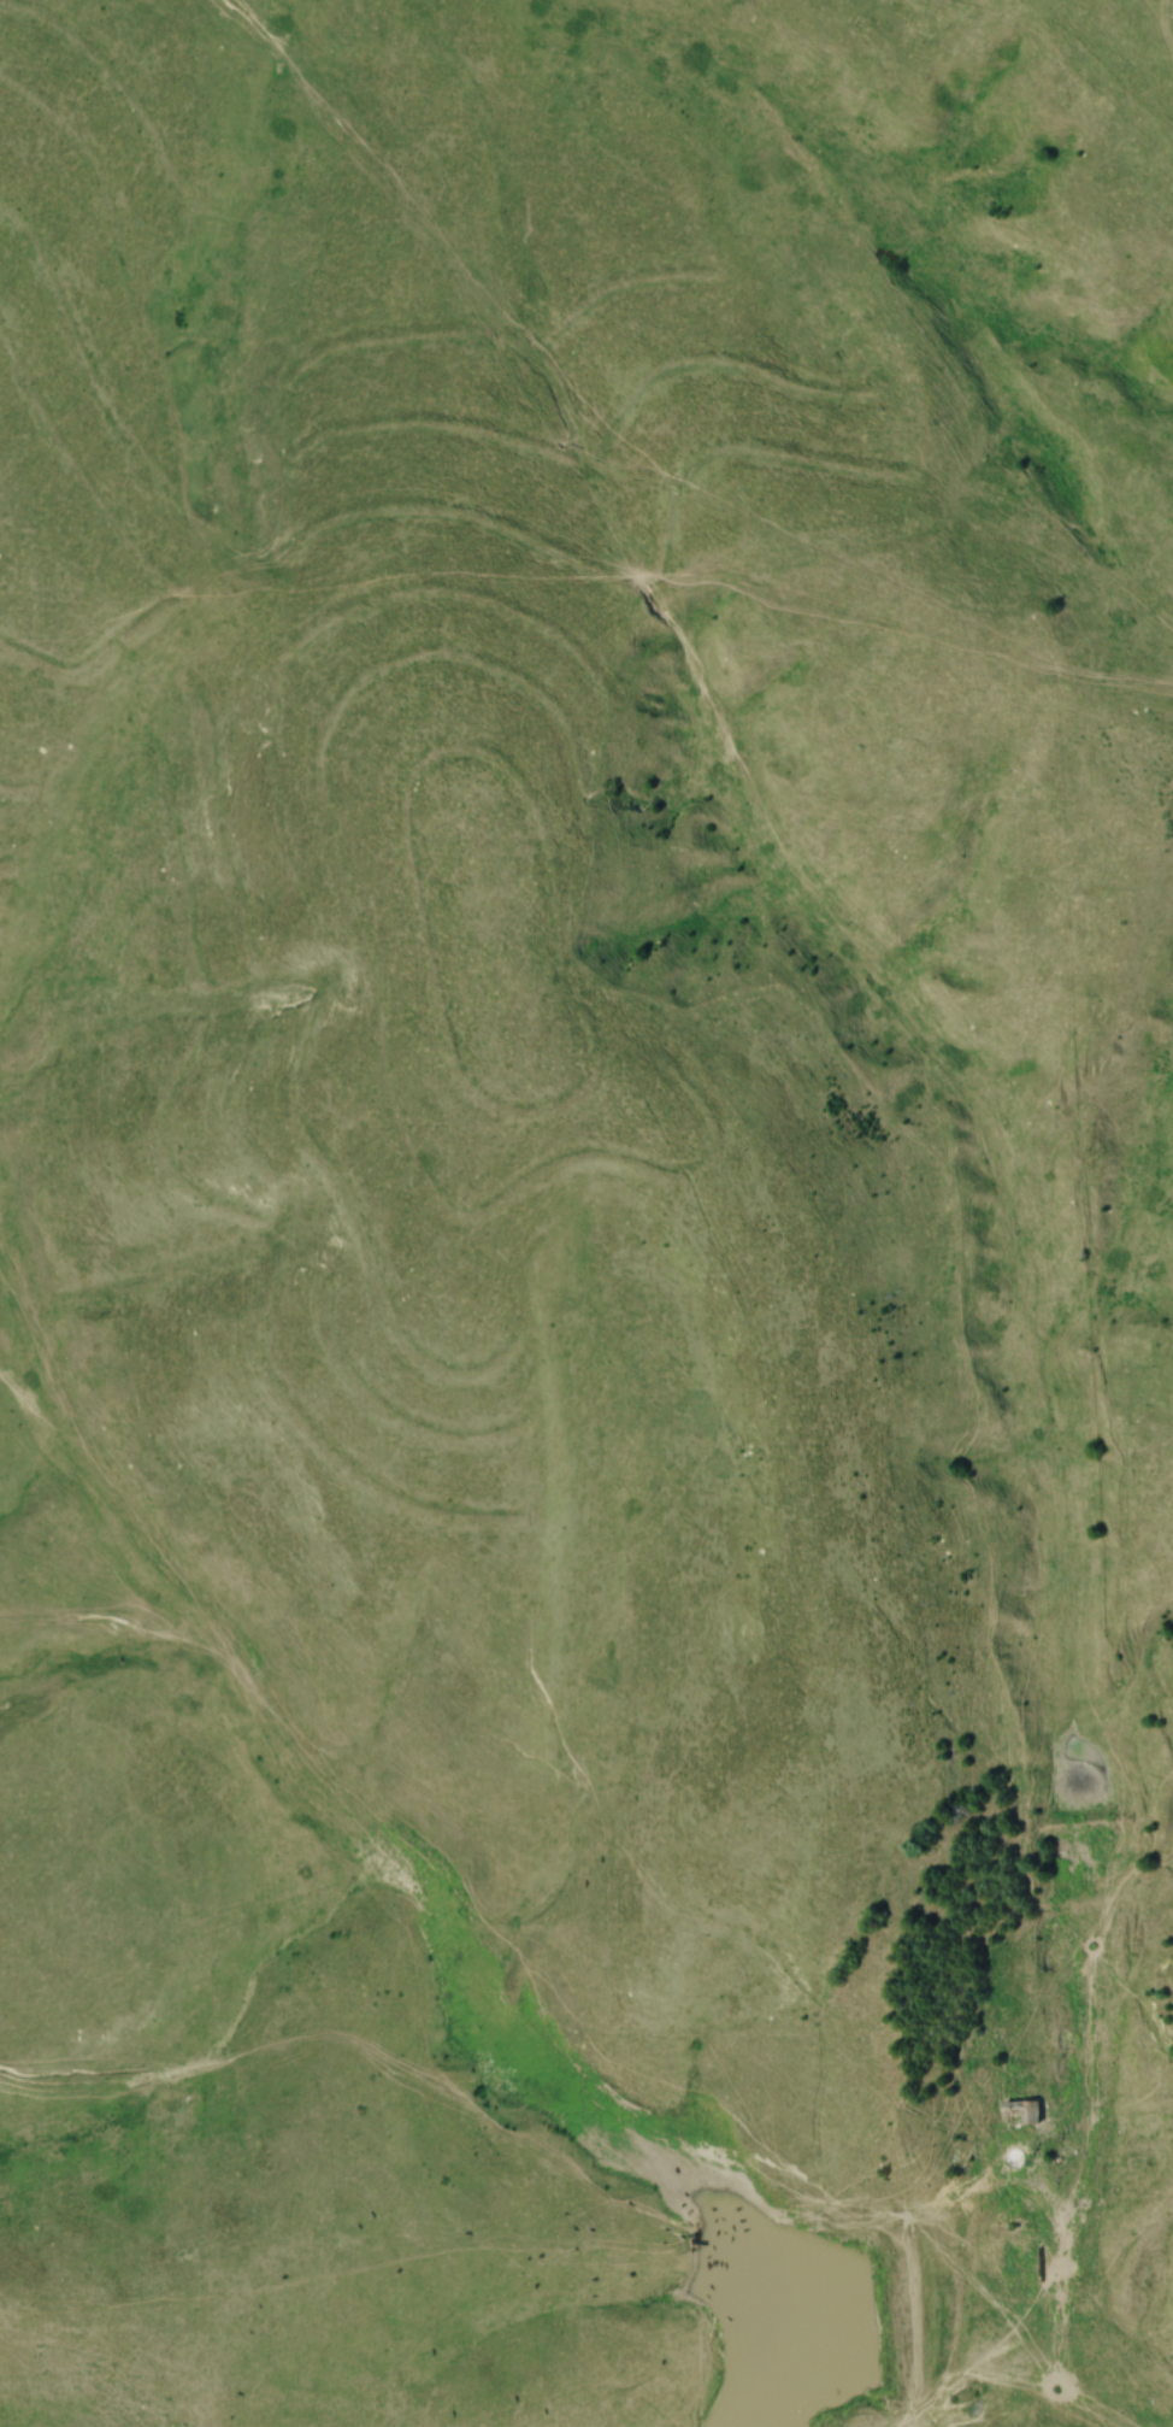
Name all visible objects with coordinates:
building: (1013, 2111)

